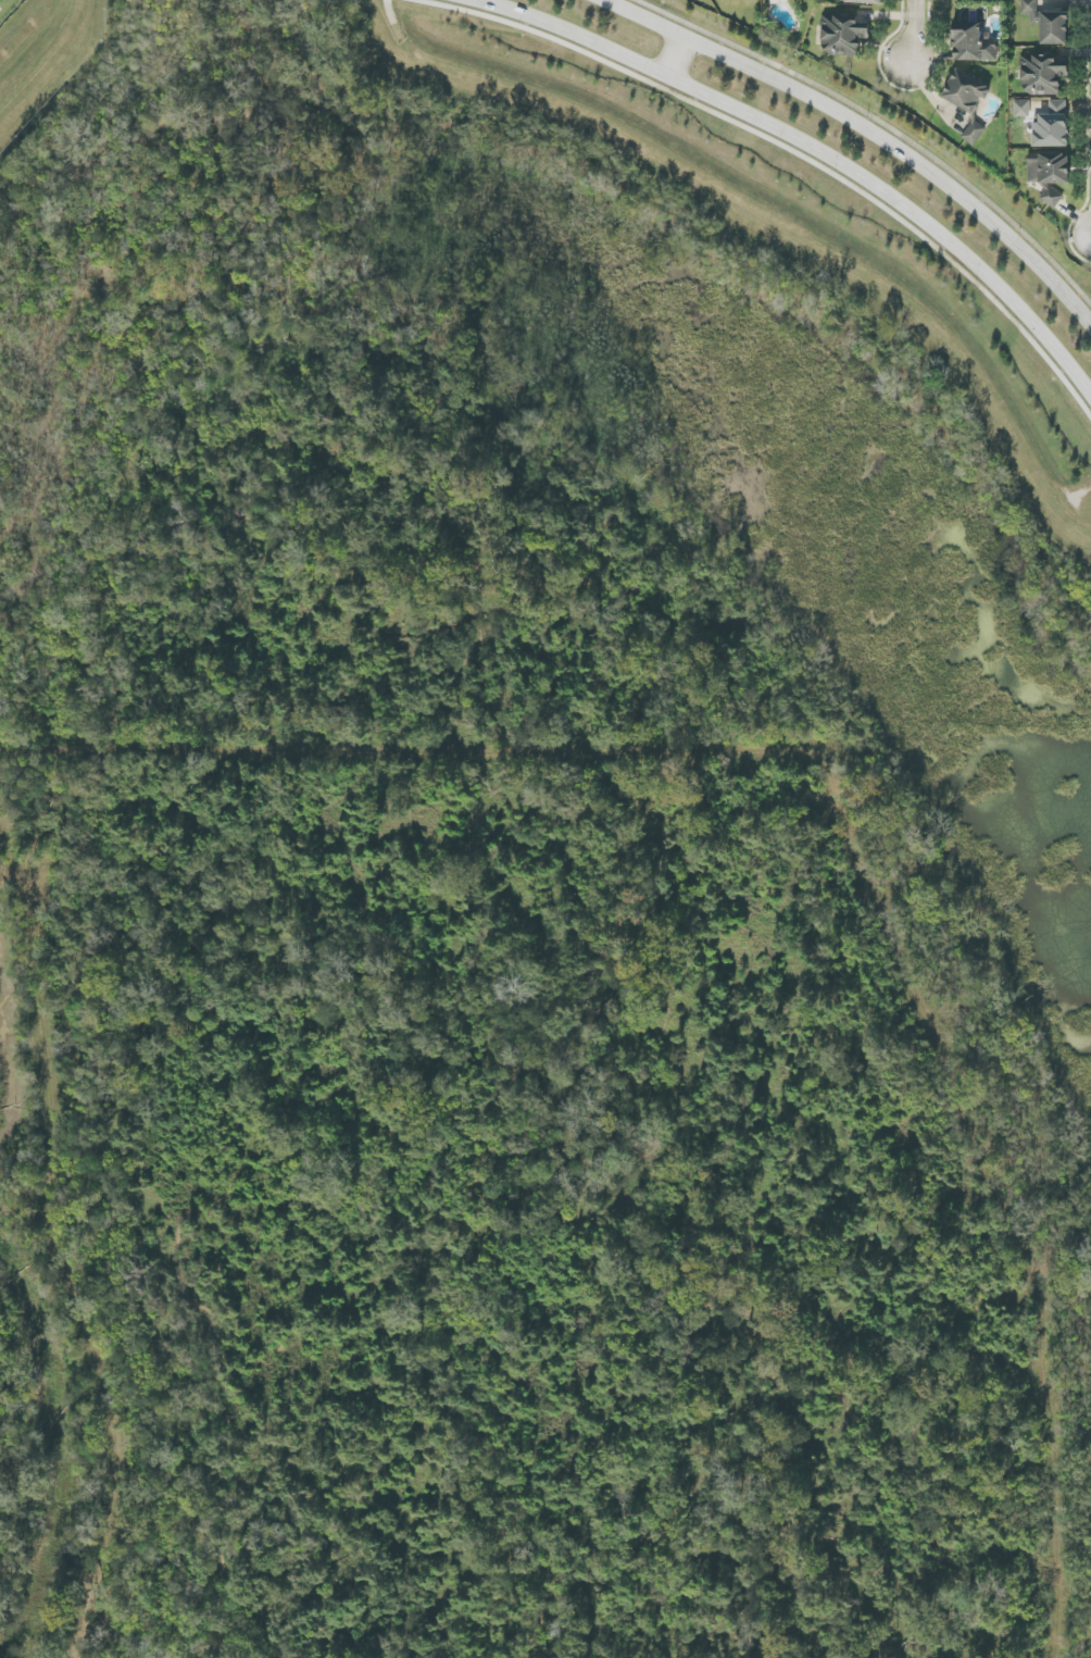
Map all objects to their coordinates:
building: (862, 1)
building: (1030, 10)
building: (1054, 27)
road: (913, 32)
building: (843, 34)
building: (973, 42)
road: (681, 55)
building: (1043, 74)
building: (1023, 109)
road: (870, 129)
building: (1051, 130)
road: (815, 146)
building: (1050, 174)

